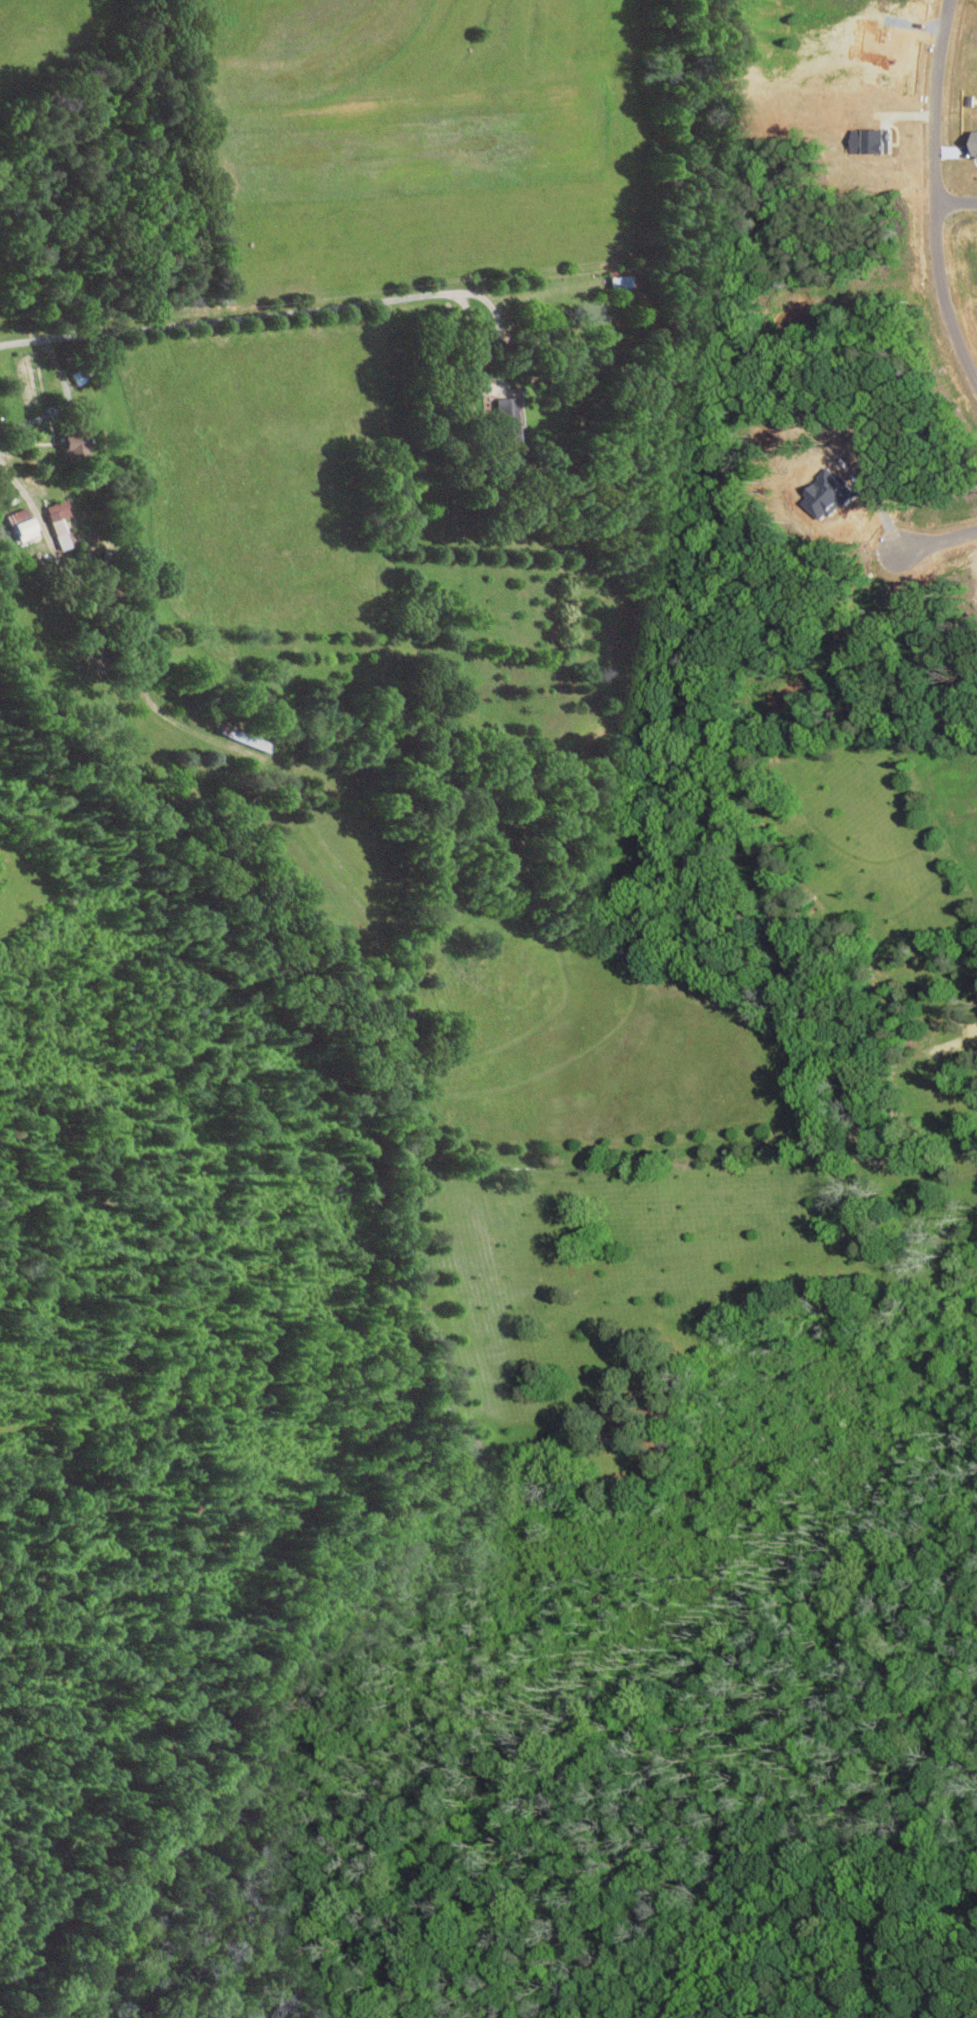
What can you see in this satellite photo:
road: (934, 193)
road: (955, 196)
building: (621, 278)
road: (336, 309)
road: (492, 387)
building: (511, 412)
road: (427, 424)
building: (61, 510)
building: (27, 524)
road: (936, 541)
river: (540, 1681)

